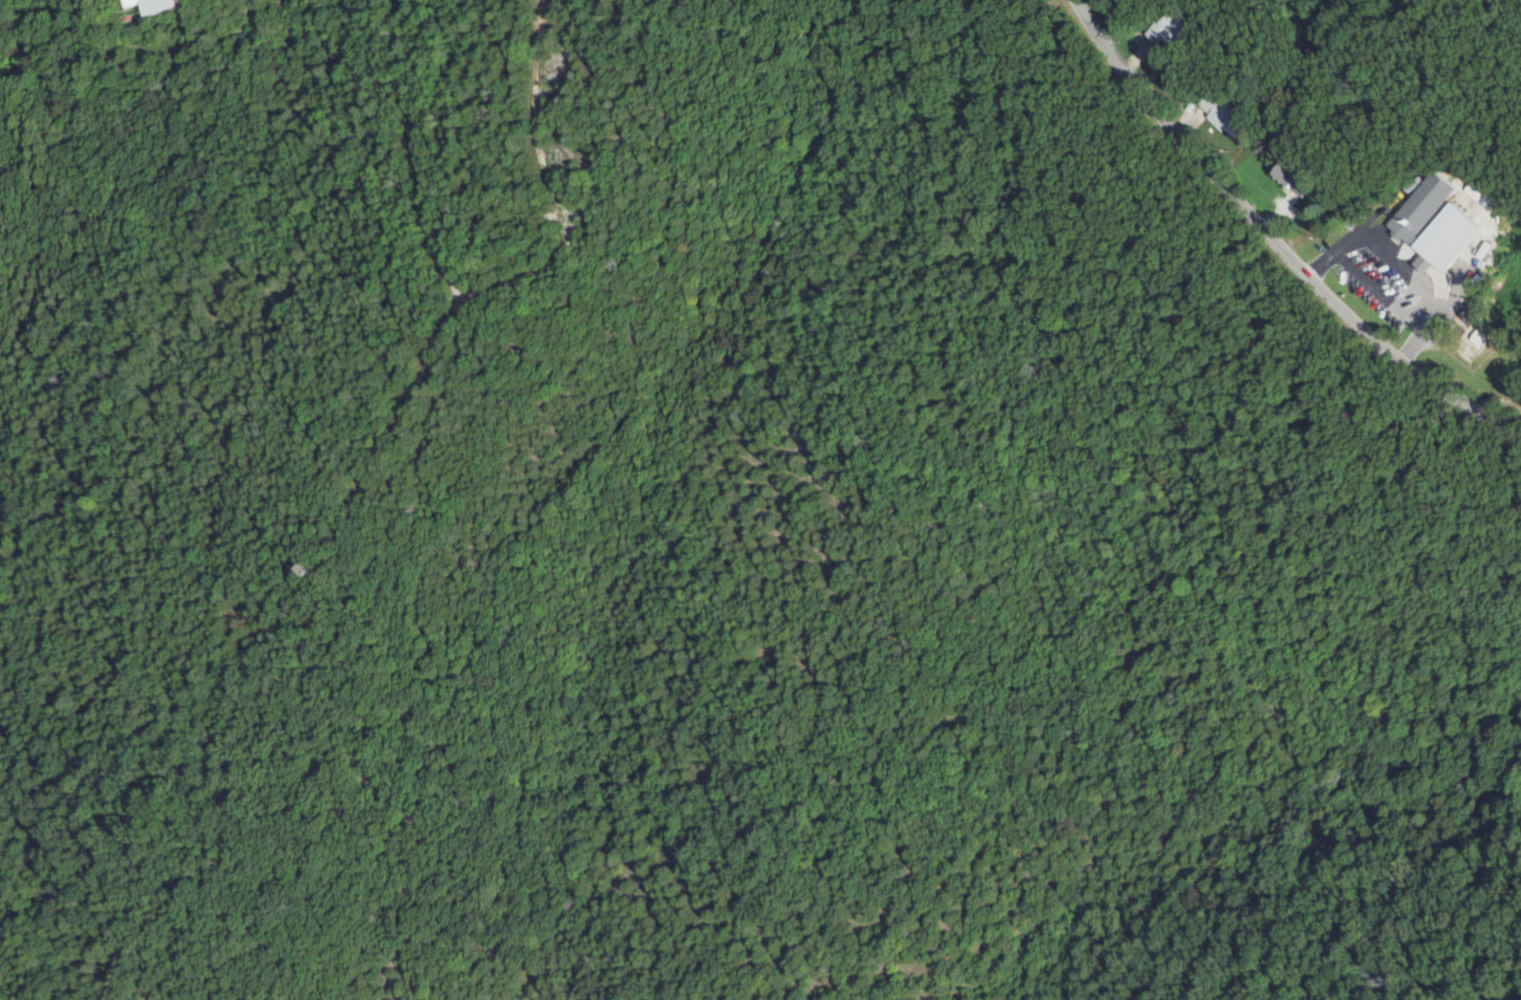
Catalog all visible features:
building: (132, 0)
building: (163, 5)
building: (1172, 30)
building: (1228, 114)
building: (1300, 178)
building: (1480, 193)
building: (1428, 205)
building: (1452, 237)
road: (1278, 242)
road: (1359, 270)
road: (1433, 302)

